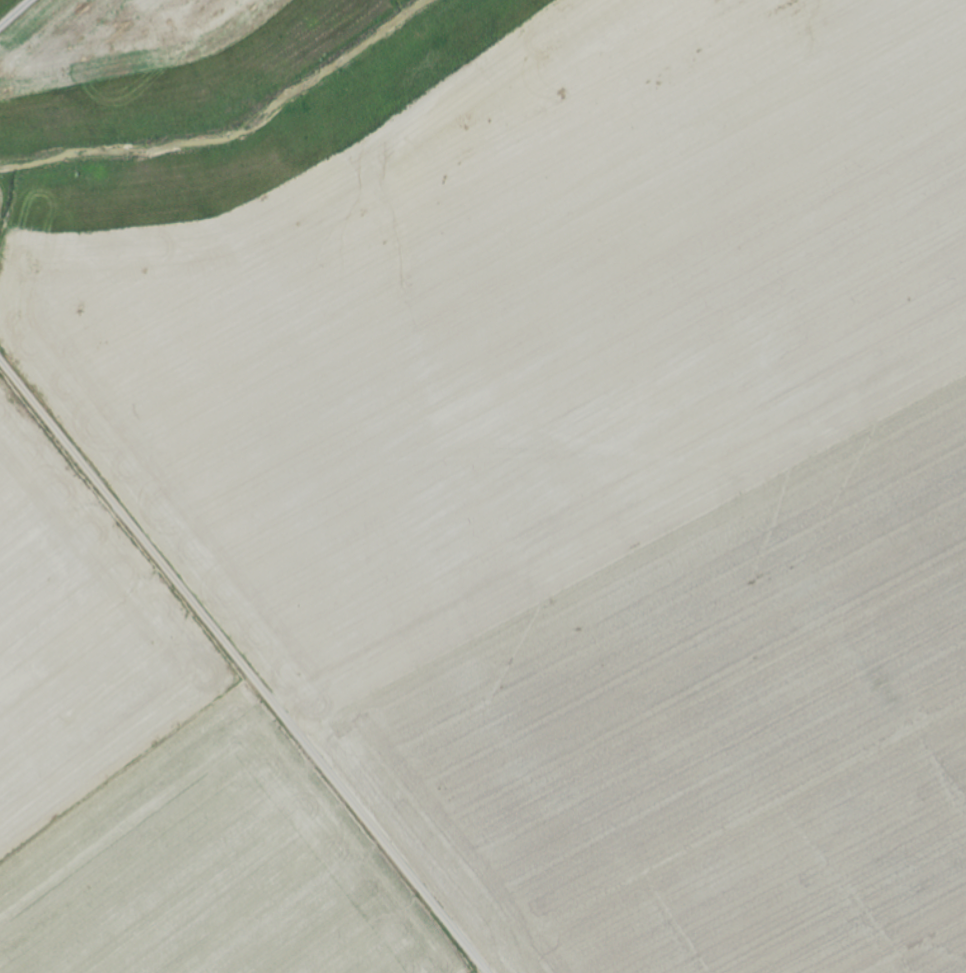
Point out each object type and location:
road: (16, 14)
road: (243, 666)

